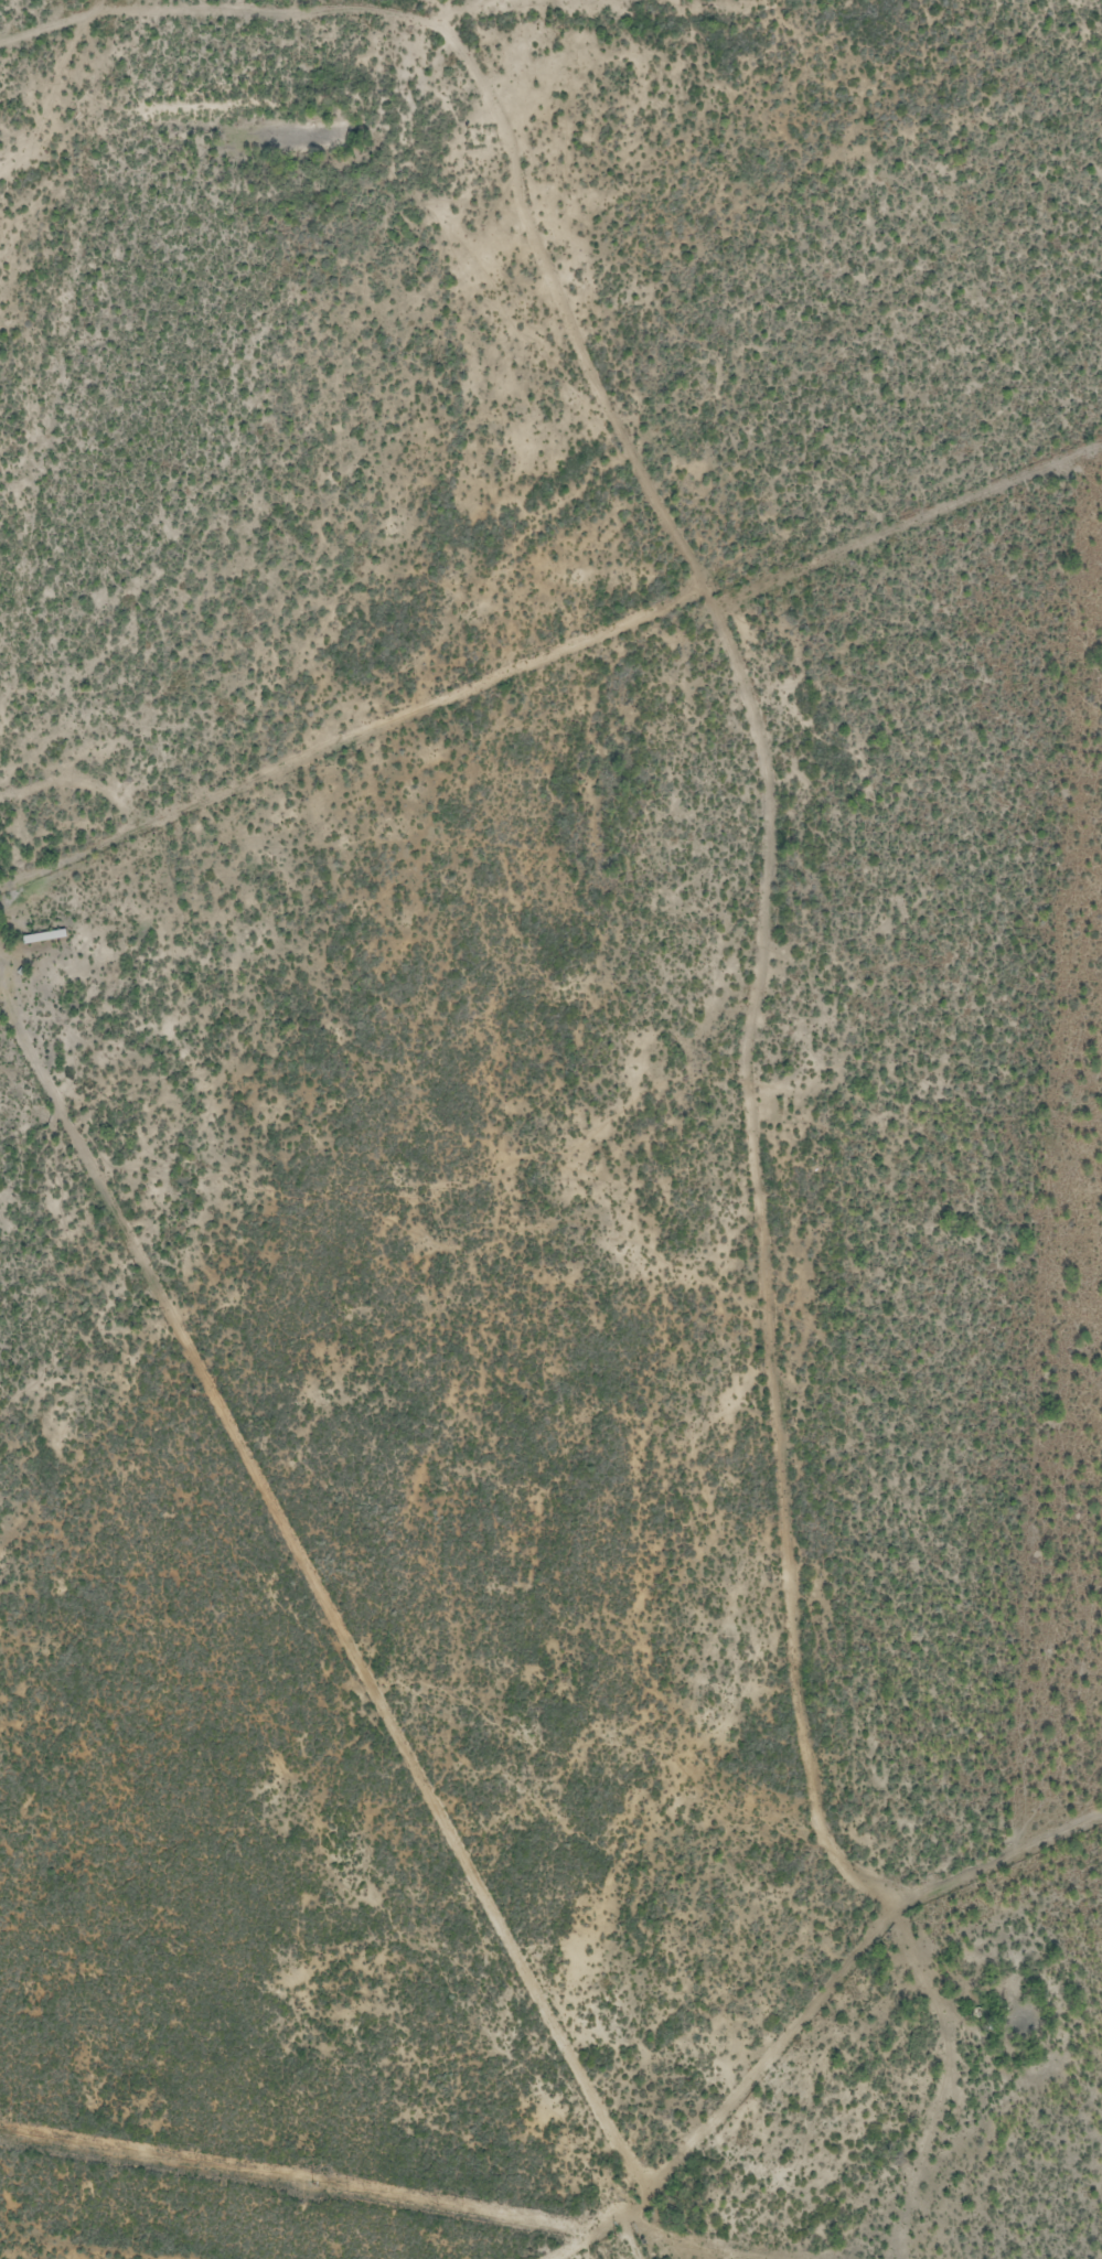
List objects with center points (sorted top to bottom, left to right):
building: (42, 939)
road: (770, 1245)
power tower: (313, 2185)
power tower: (610, 2235)

